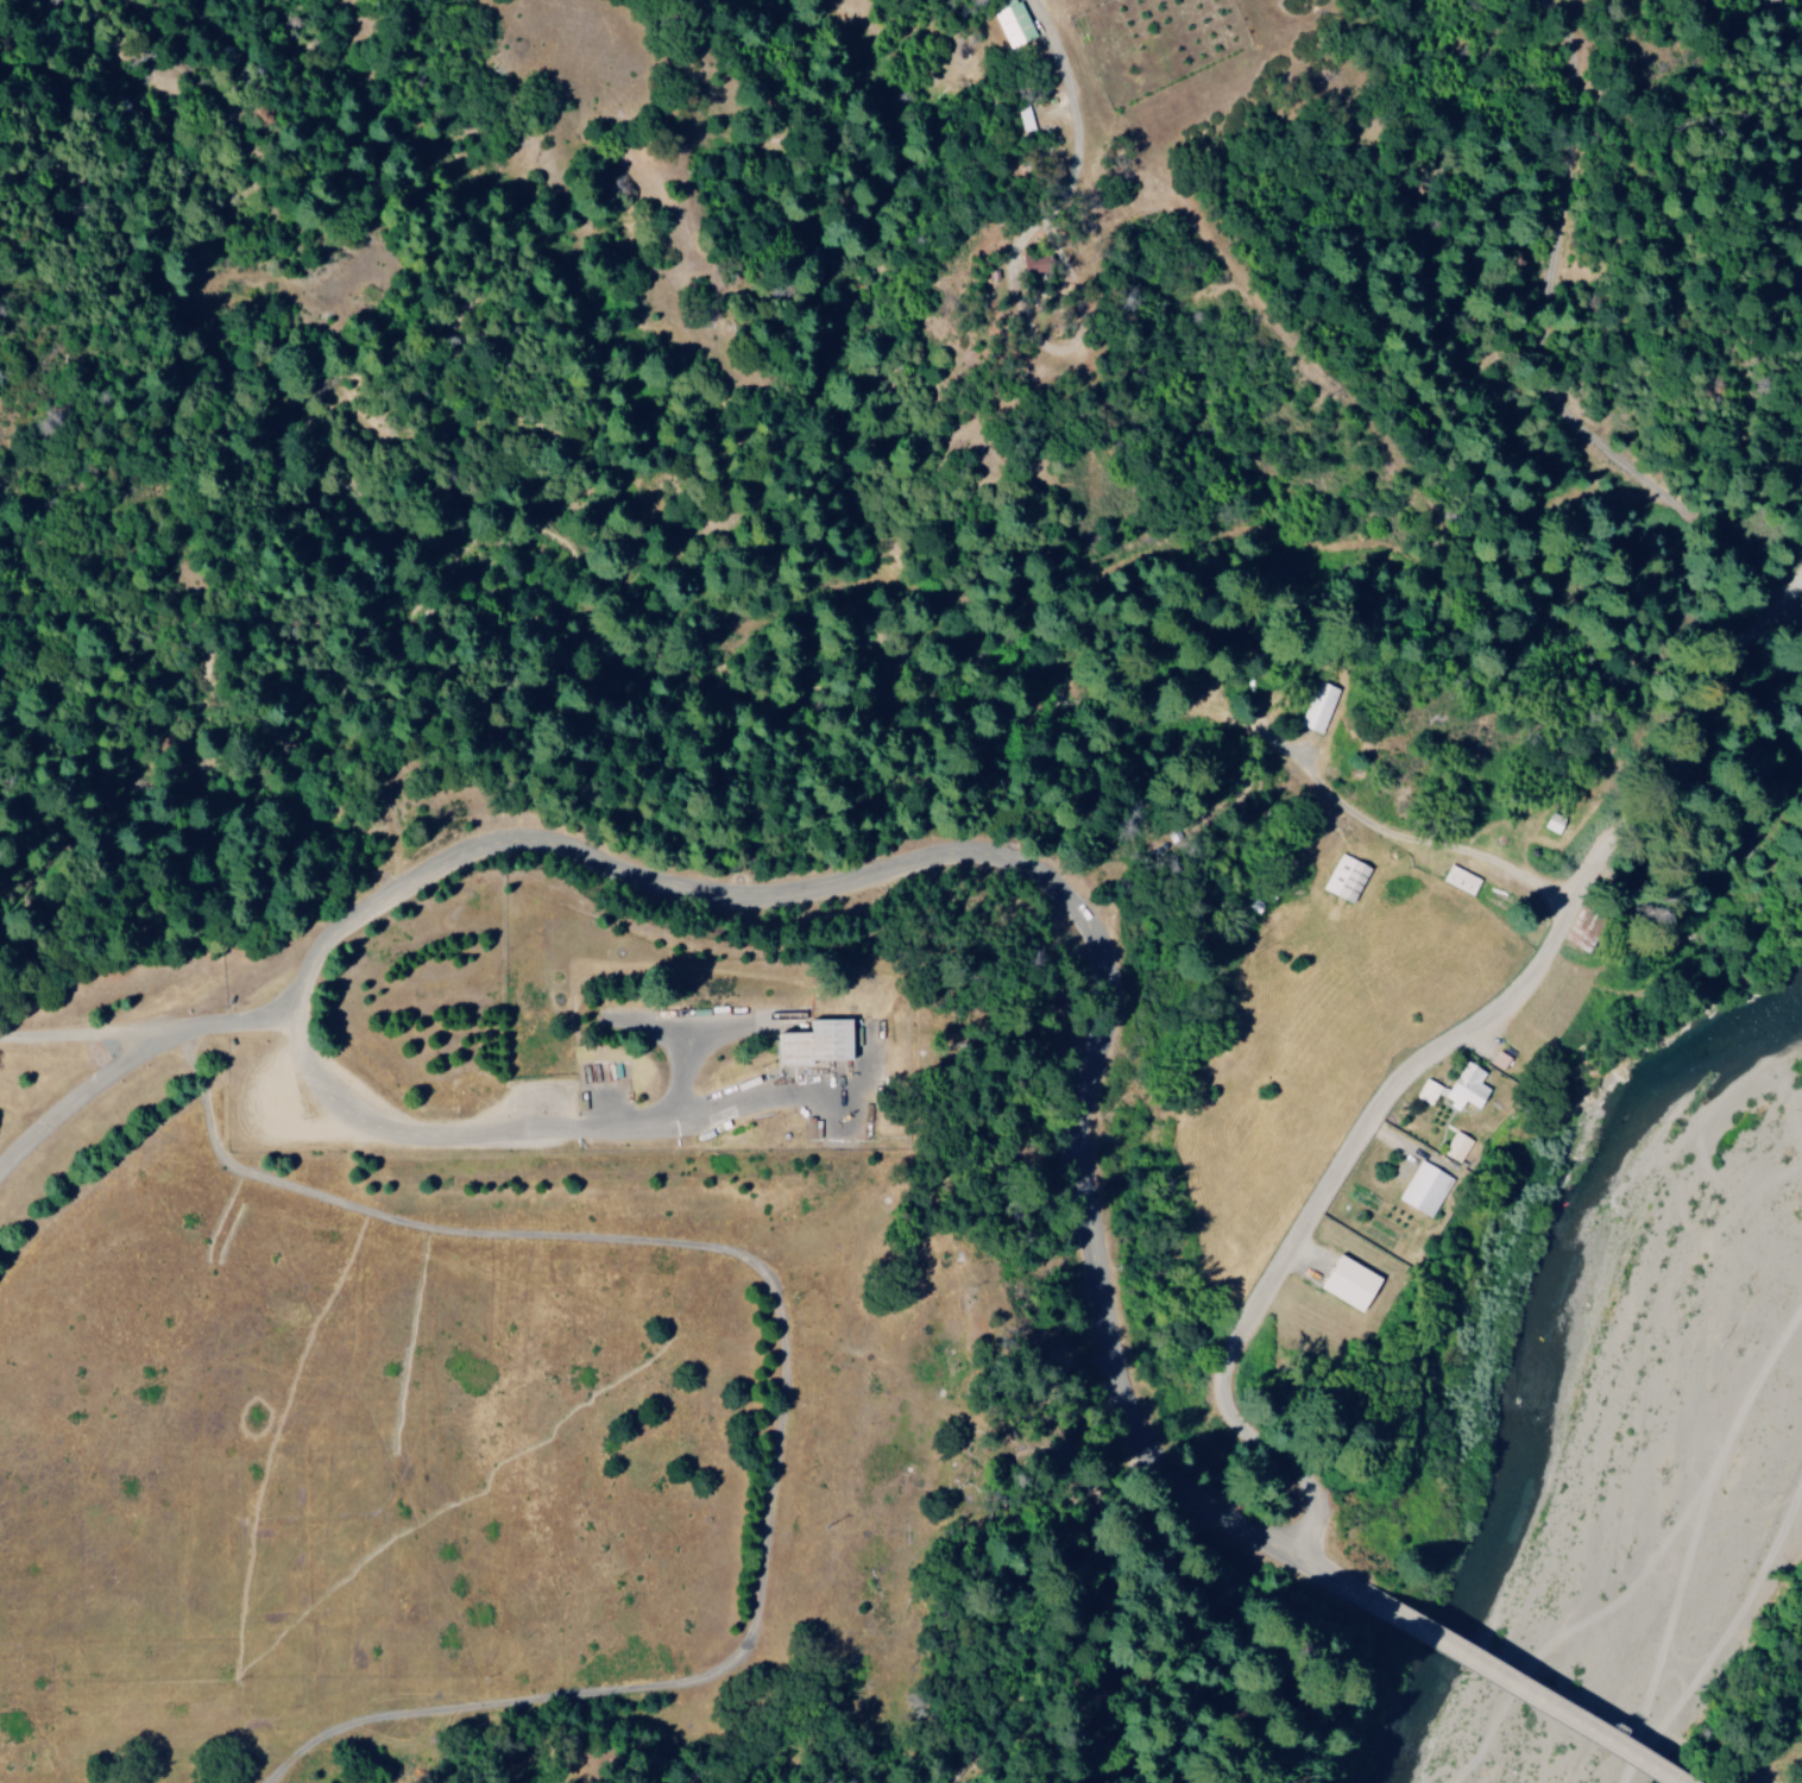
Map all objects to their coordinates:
building: (1010, 23)
building: (1022, 119)
road: (1557, 336)
road: (1340, 697)
building: (1319, 707)
road: (1664, 707)
building: (1344, 878)
building: (1458, 880)
road: (1101, 940)
building: (812, 1042)
building: (1462, 1086)
building: (1425, 1091)
road: (430, 1141)
building: (1455, 1147)
road: (62, 1160)
building: (1422, 1189)
road: (1308, 1210)
building: (1346, 1283)
river: (1631, 1458)
road: (1787, 1766)

